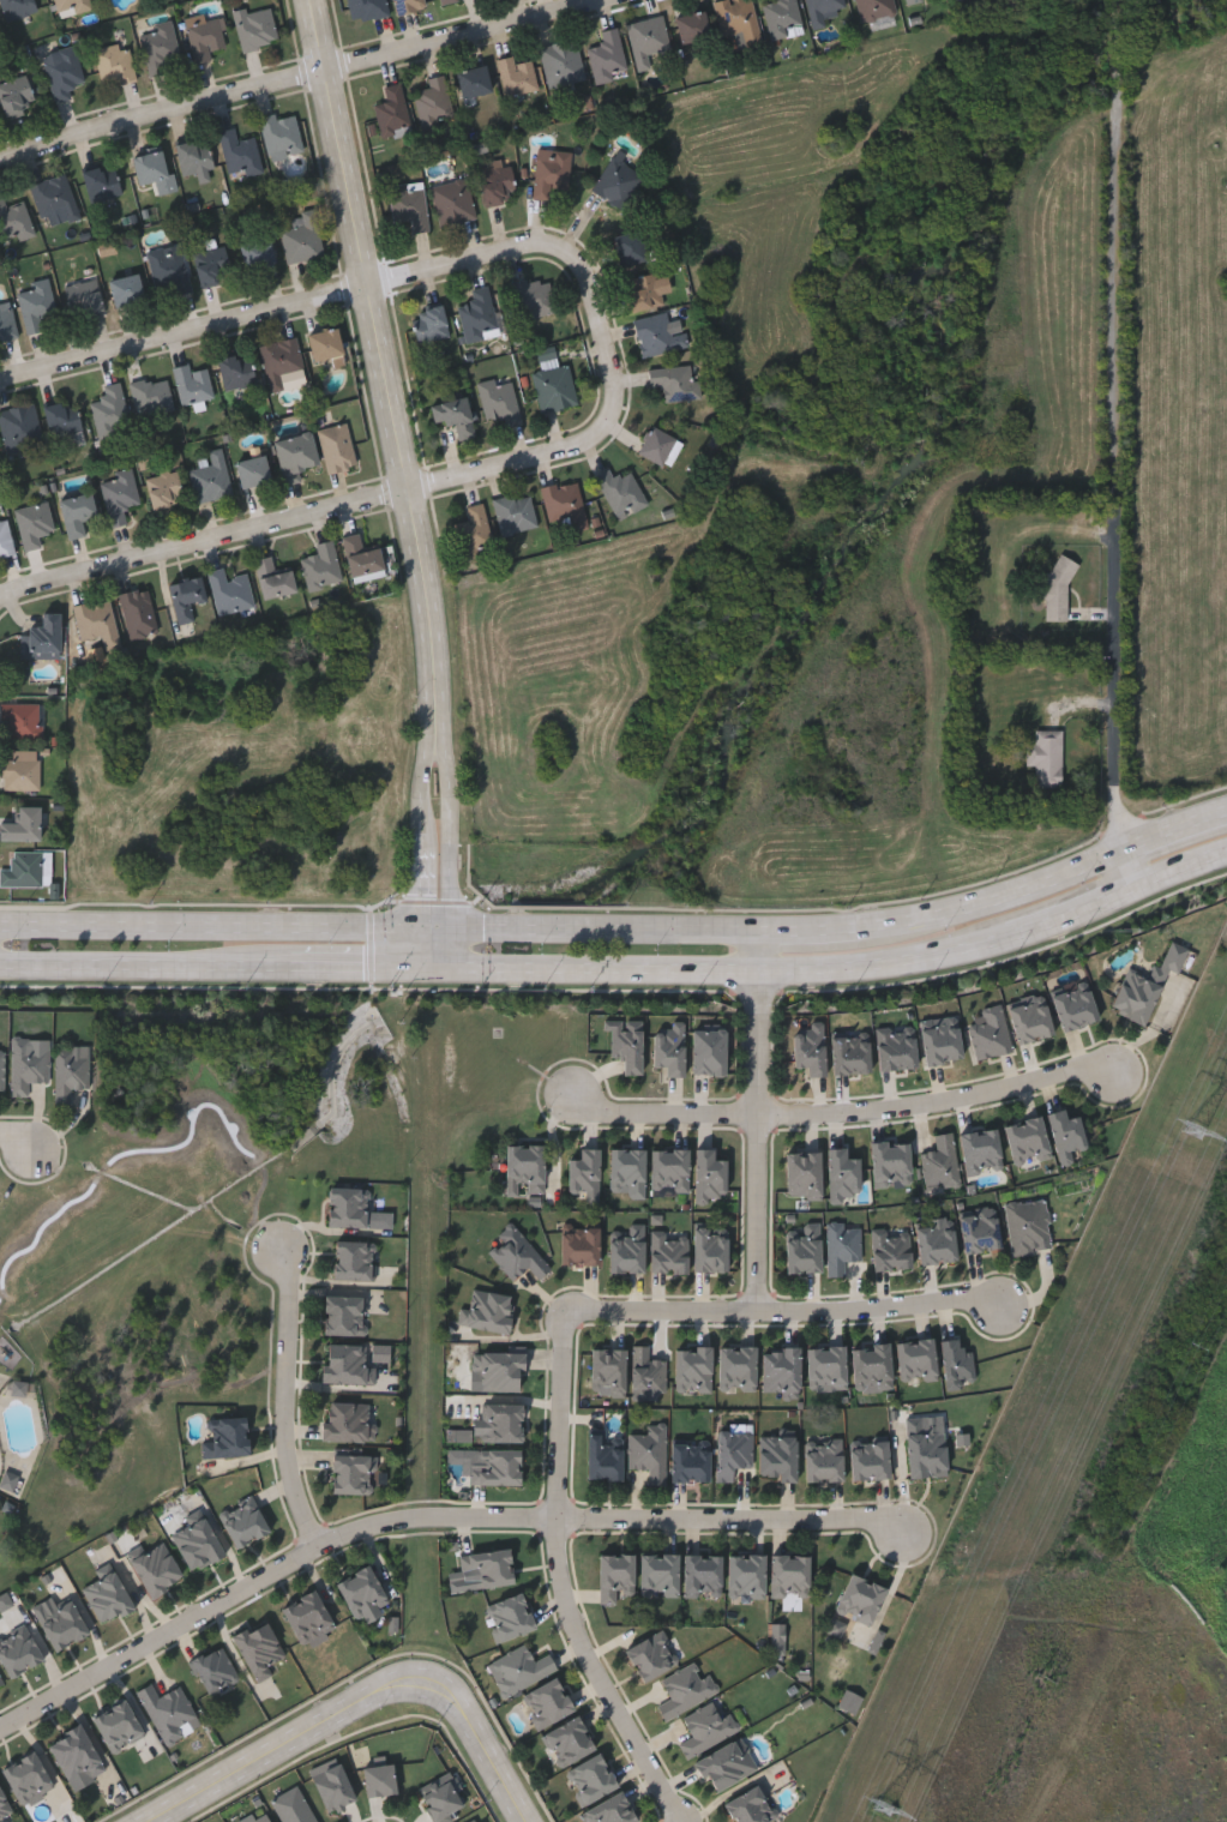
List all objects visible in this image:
building: (1031, 0)
building: (446, 1)
building: (912, 1)
building: (408, 5)
building: (72, 6)
building: (17, 7)
building: (367, 8)
building: (874, 8)
building: (823, 10)
building: (782, 17)
building: (738, 20)
building: (692, 25)
building: (257, 29)
road: (1118, 37)
building: (648, 38)
building: (206, 40)
building: (158, 47)
building: (608, 56)
building: (563, 62)
building: (114, 64)
building: (62, 72)
building: (517, 76)
road: (312, 78)
building: (474, 80)
building: (16, 96)
building: (434, 101)
building: (392, 109)
building: (0, 125)
building: (281, 134)
building: (241, 152)
building: (194, 157)
building: (552, 170)
building: (154, 172)
building: (495, 180)
building: (619, 181)
building: (102, 182)
building: (55, 199)
building: (453, 200)
building: (410, 203)
building: (14, 221)
building: (302, 237)
building: (630, 247)
building: (257, 253)
building: (212, 266)
building: (169, 271)
road: (377, 288)
building: (127, 290)
building: (645, 290)
building: (89, 297)
building: (533, 297)
building: (37, 306)
building: (479, 314)
building: (431, 323)
building: (7, 324)
building: (658, 335)
building: (325, 344)
building: (281, 361)
road: (387, 368)
building: (236, 371)
building: (675, 381)
building: (193, 384)
building: (555, 387)
building: (152, 397)
building: (500, 401)
building: (110, 411)
building: (455, 415)
building: (62, 419)
building: (20, 427)
building: (337, 446)
building: (660, 446)
building: (294, 456)
road: (1120, 463)
building: (252, 473)
building: (211, 477)
building: (164, 488)
building: (622, 491)
building: (119, 495)
building: (565, 503)
building: (516, 512)
building: (77, 513)
road: (307, 521)
building: (34, 524)
building: (475, 531)
building: (5, 536)
building: (362, 558)
building: (321, 566)
building: (272, 578)
building: (229, 591)
building: (1059, 595)
building: (185, 596)
building: (138, 613)
building: (97, 623)
building: (42, 637)
building: (20, 720)
building: (1048, 759)
building: (20, 769)
building: (20, 824)
road: (1177, 830)
road: (425, 853)
road: (450, 854)
building: (23, 867)
road: (1133, 870)
road: (1183, 870)
road: (996, 897)
road: (1076, 915)
road: (381, 925)
traffic signals: (423, 925)
traffic signals: (452, 925)
road: (811, 928)
road: (145, 969)
road: (371, 970)
traffic signals: (421, 972)
traffic signals: (451, 972)
road: (732, 973)
building: (1145, 985)
building: (1075, 1008)
building: (1030, 1020)
building: (990, 1033)
building: (942, 1039)
building: (896, 1048)
building: (850, 1054)
building: (28, 1065)
building: (1, 1070)
building: (71, 1072)
road: (942, 1102)
road: (664, 1112)
road: (760, 1119)
power tower: (1193, 1130)
building: (1065, 1135)
road: (19, 1139)
building: (1027, 1139)
building: (980, 1150)
building: (891, 1161)
building: (835, 1162)
building: (940, 1162)
building: (524, 1167)
building: (627, 1168)
building: (669, 1169)
building: (584, 1173)
building: (348, 1205)
building: (1027, 1227)
building: (980, 1229)
building: (936, 1243)
building: (579, 1244)
building: (842, 1246)
building: (804, 1247)
building: (891, 1247)
building: (626, 1249)
building: (710, 1250)
building: (668, 1252)
building: (516, 1253)
building: (353, 1259)
building: (343, 1311)
building: (486, 1311)
road: (877, 1311)
road: (663, 1312)
power tower: (1197, 1345)
building: (915, 1359)
building: (353, 1361)
building: (956, 1361)
building: (872, 1366)
building: (693, 1367)
building: (738, 1367)
building: (781, 1367)
building: (826, 1367)
building: (608, 1370)
building: (500, 1371)
building: (648, 1371)
road: (288, 1399)
road: (563, 1417)
building: (503, 1419)
building: (344, 1421)
building: (229, 1436)
building: (924, 1449)
building: (649, 1453)
building: (733, 1453)
building: (603, 1455)
building: (777, 1456)
building: (868, 1460)
building: (690, 1461)
building: (824, 1461)
building: (498, 1467)
building: (353, 1472)
road: (733, 1520)
building: (243, 1521)
building: (198, 1543)
building: (157, 1568)
building: (488, 1568)
building: (660, 1573)
building: (703, 1574)
building: (747, 1575)
building: (789, 1575)
building: (615, 1576)
road: (265, 1577)
building: (362, 1591)
building: (108, 1596)
building: (860, 1599)
building: (510, 1616)
building: (309, 1618)
building: (61, 1623)
building: (259, 1647)
building: (651, 1655)
building: (215, 1668)
building: (521, 1668)
road: (602, 1676)
building: (1, 1680)
power tower: (1042, 1680)
building: (685, 1690)
building: (548, 1702)
building: (167, 1710)
building: (119, 1725)
building: (706, 1727)
building: (569, 1742)
road: (295, 1744)
road: (486, 1750)
building: (76, 1752)
building: (727, 1764)
building: (28, 1776)
building: (378, 1779)
building: (591, 1779)
building: (332, 1786)
building: (439, 1800)
building: (4, 1805)
building: (293, 1806)
building: (750, 1806)
power tower: (888, 1808)
building: (611, 1810)
building: (258, 1817)

